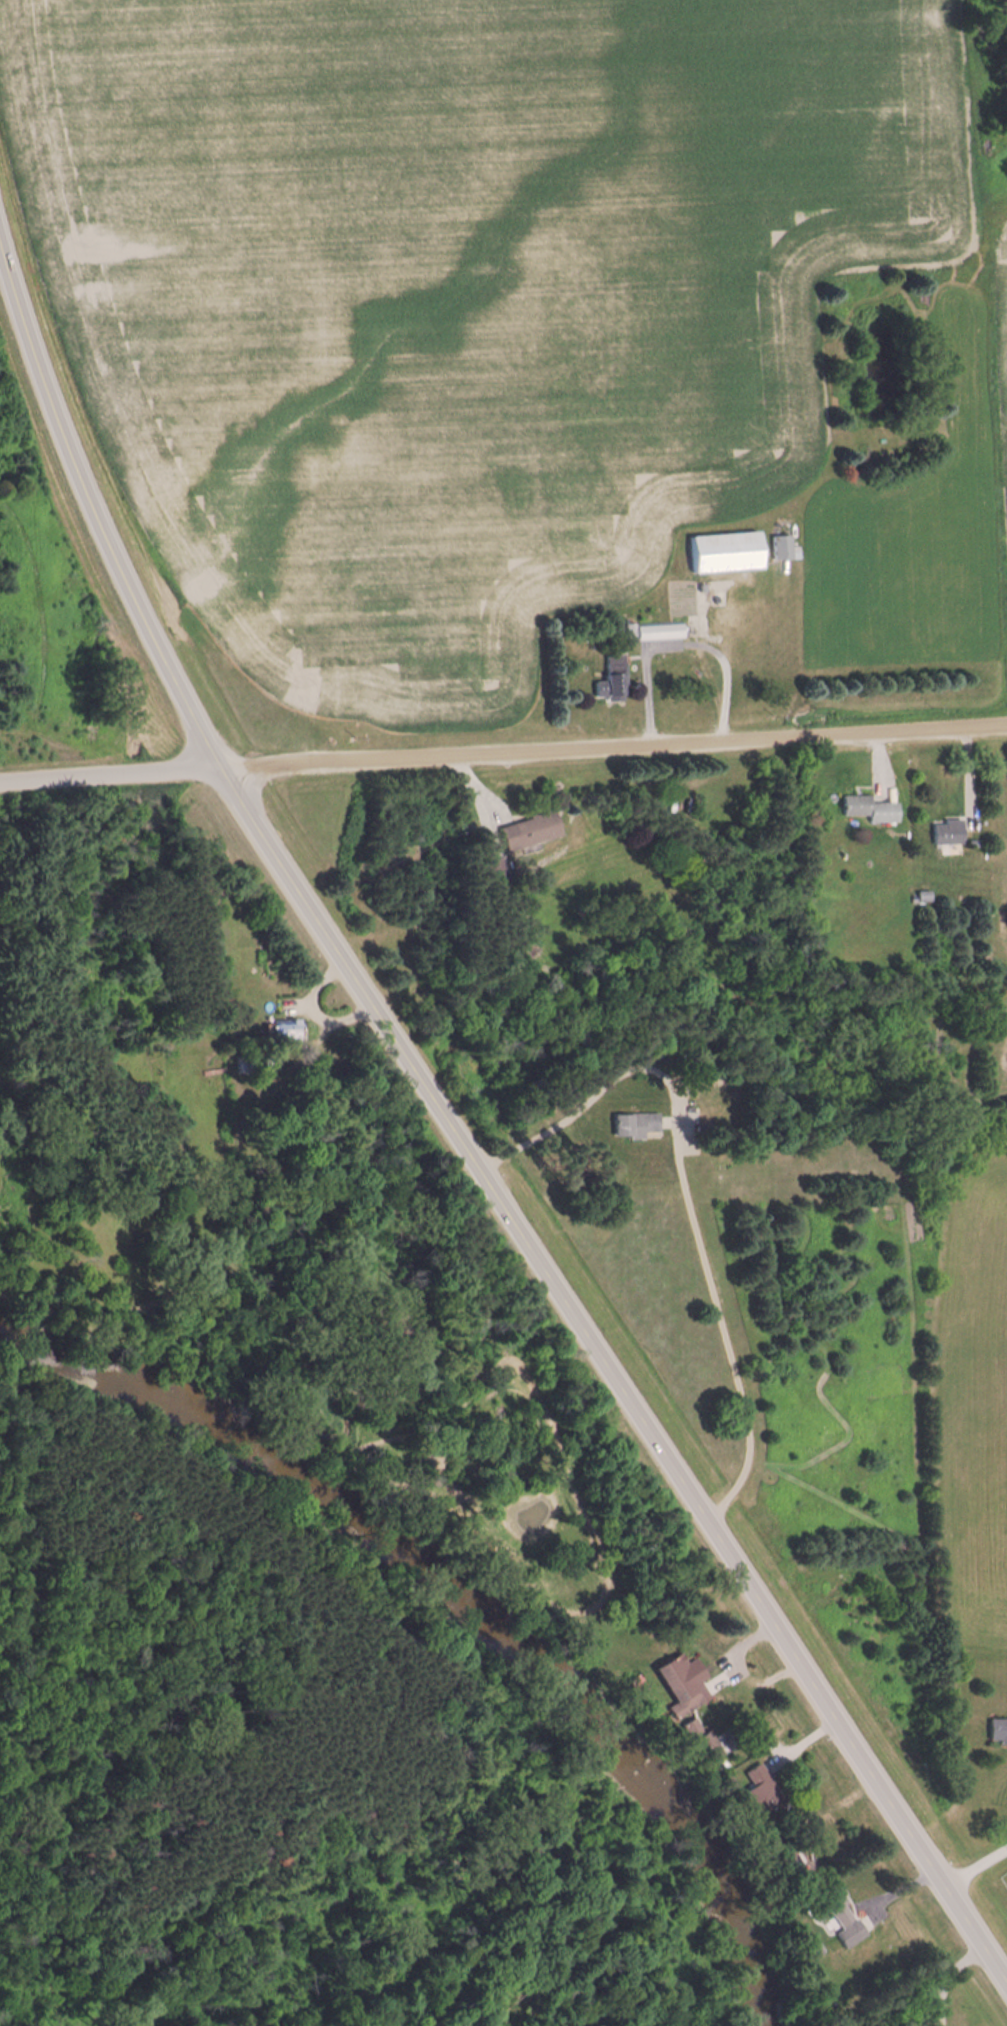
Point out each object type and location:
road: (94, 518)
building: (778, 548)
building: (719, 553)
building: (654, 631)
building: (604, 675)
road: (609, 746)
road: (105, 775)
building: (864, 808)
building: (523, 830)
building: (942, 831)
building: (278, 1030)
building: (629, 1124)
road: (683, 1191)
road: (611, 1374)
river: (455, 1618)
building: (676, 1683)
building: (995, 1729)
building: (756, 1788)
road: (973, 1861)
building: (834, 1915)
building: (807, 1948)

